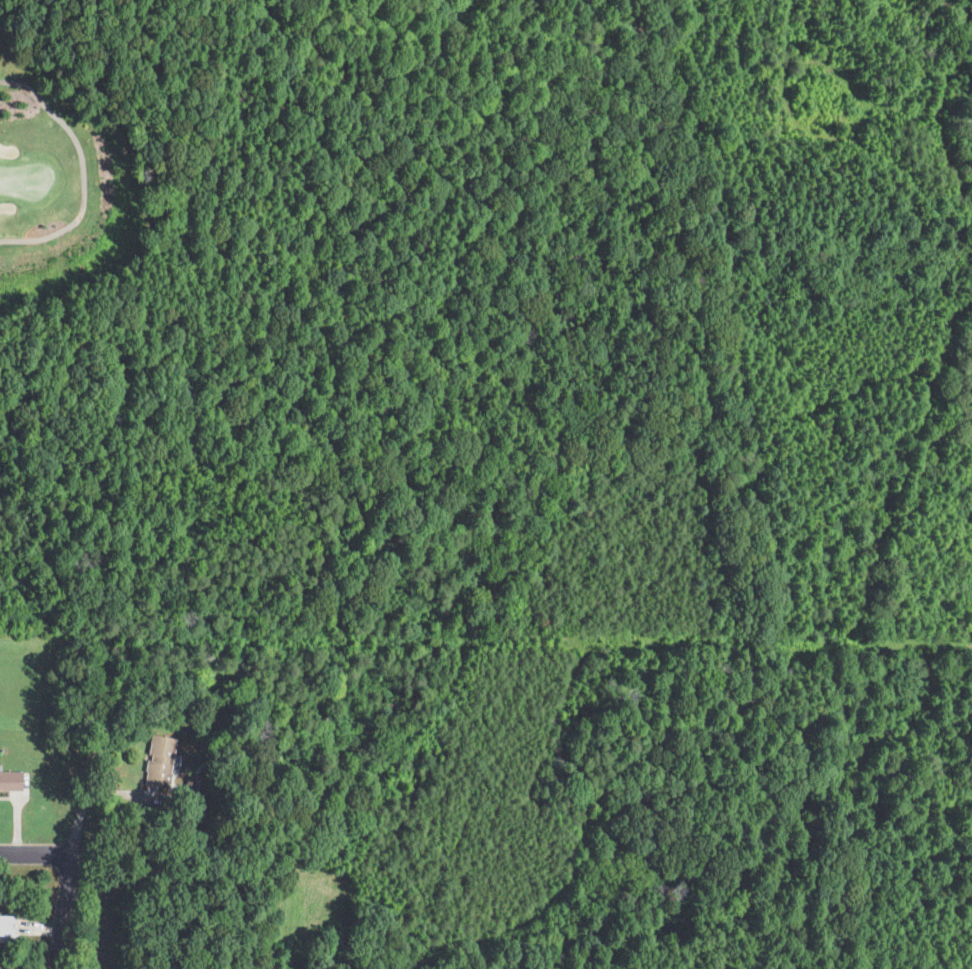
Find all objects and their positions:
park: (40, 144)
building: (158, 761)
building: (10, 781)
road: (38, 854)
road: (72, 875)
building: (6, 925)

